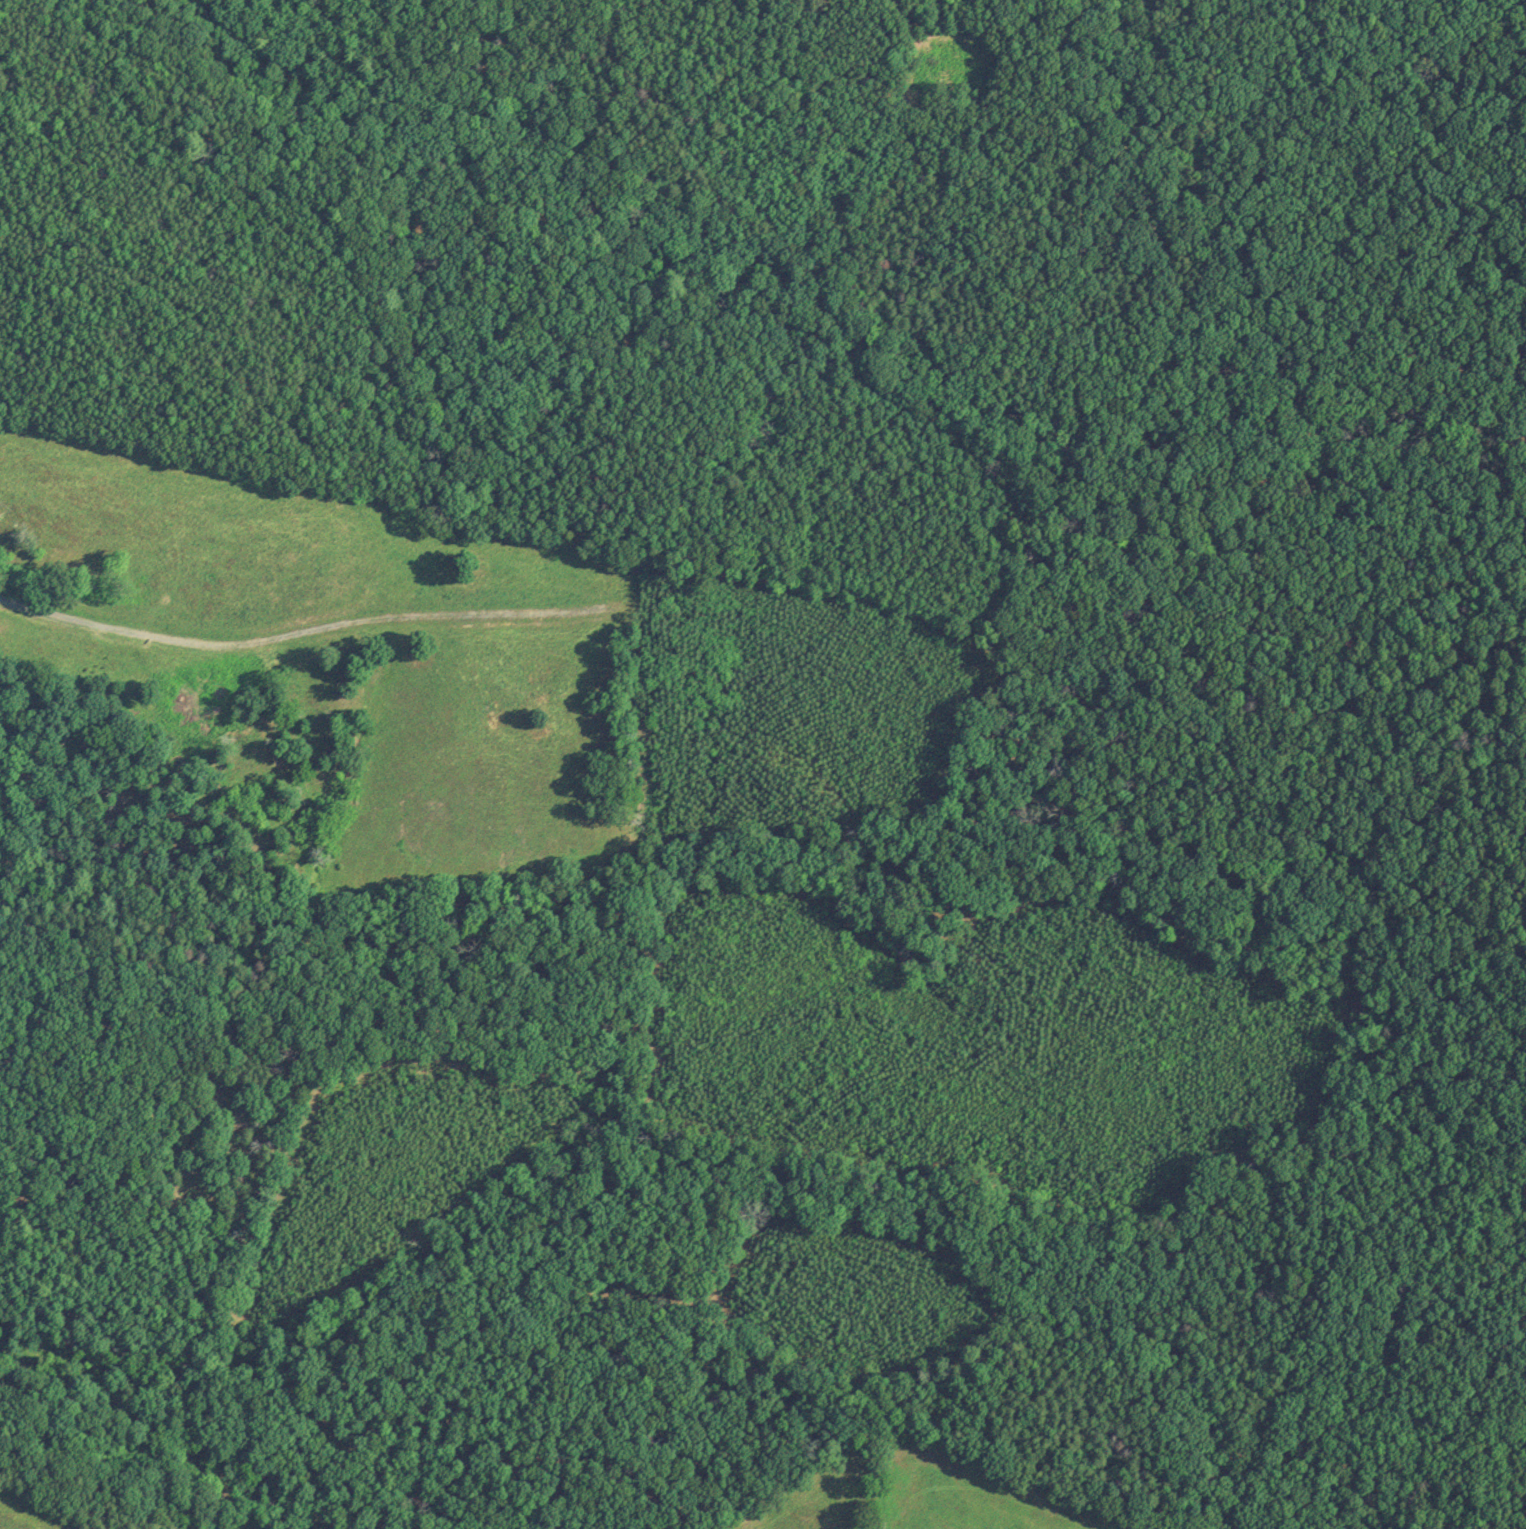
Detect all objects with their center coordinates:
building: (1142, 1528)

